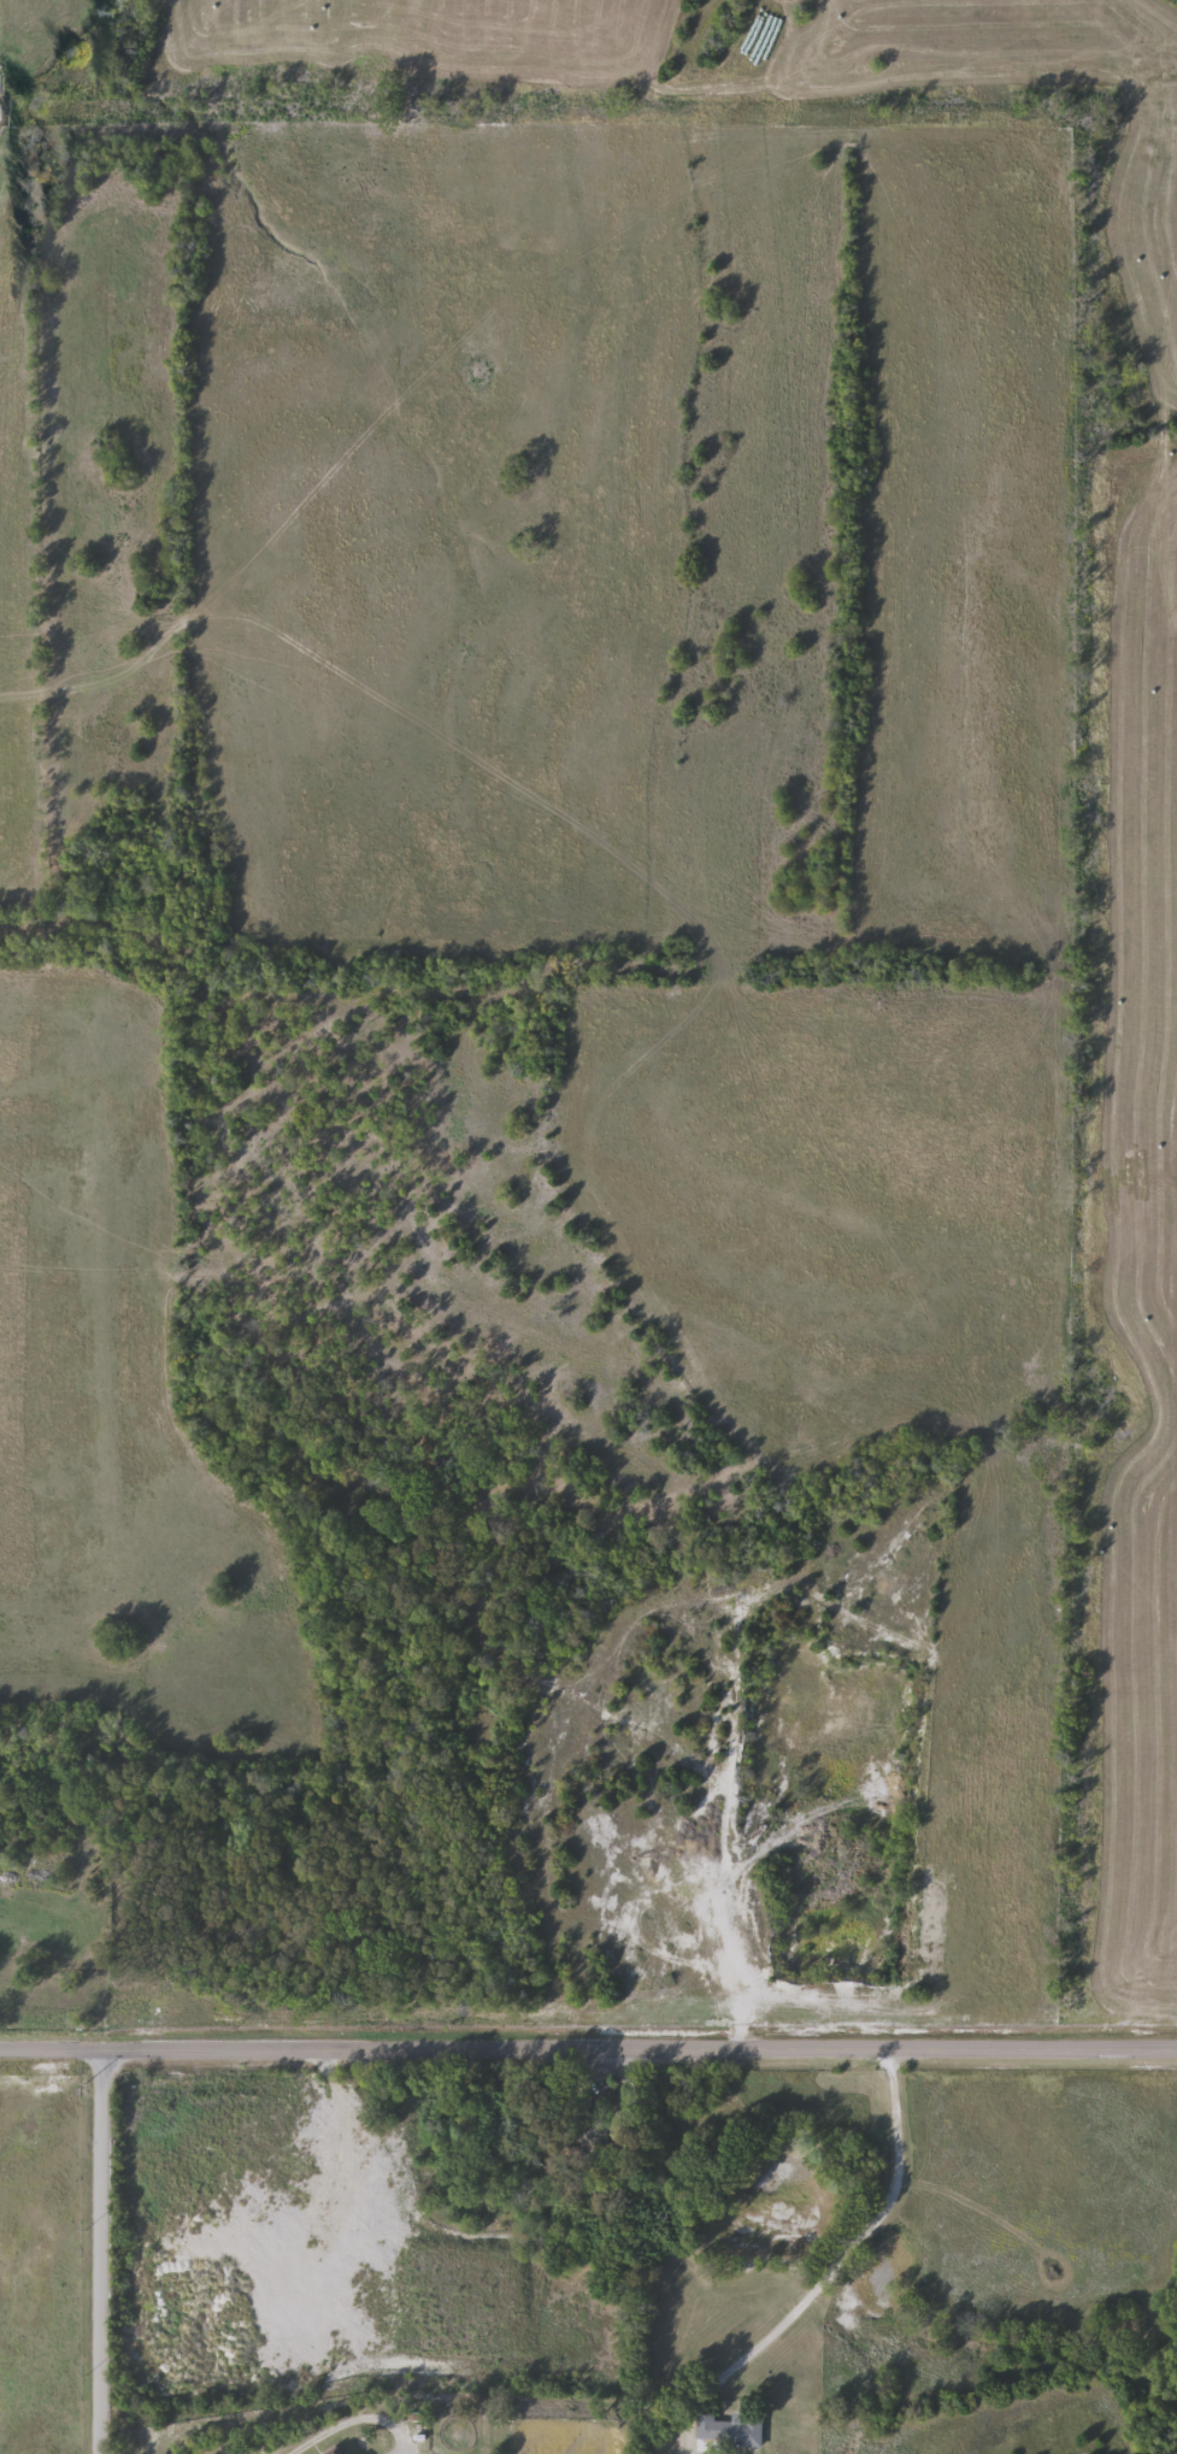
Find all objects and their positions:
road: (588, 2052)
building: (590, 2135)
road: (98, 2252)
road: (830, 2270)
road: (354, 2420)
building: (729, 2432)
building: (335, 2450)

